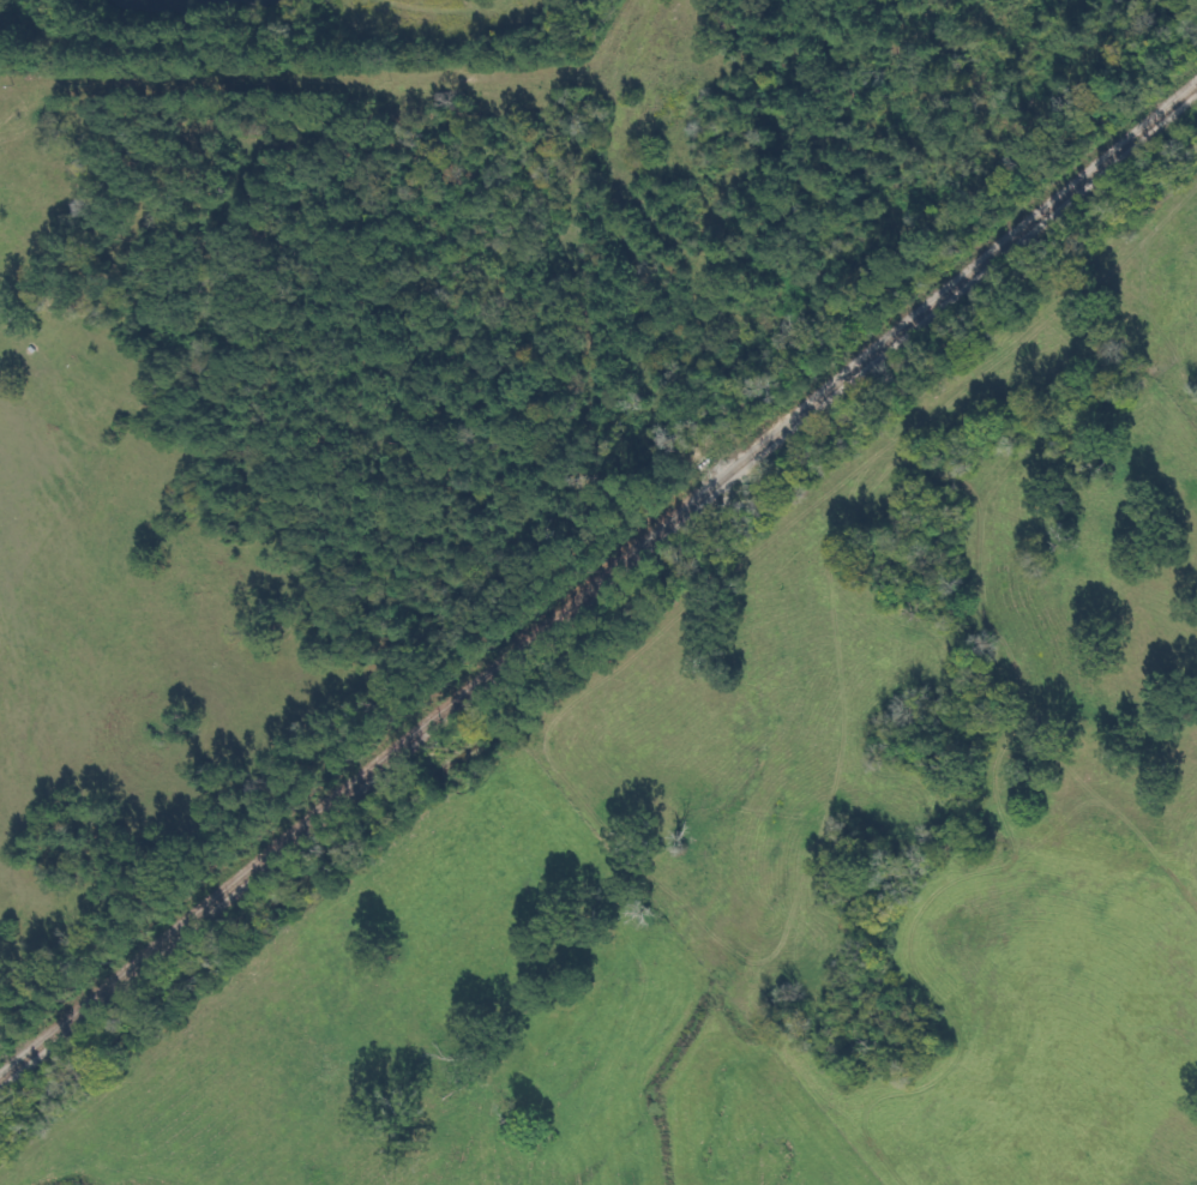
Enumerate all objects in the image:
road: (344, 107)
railway: (597, 577)

